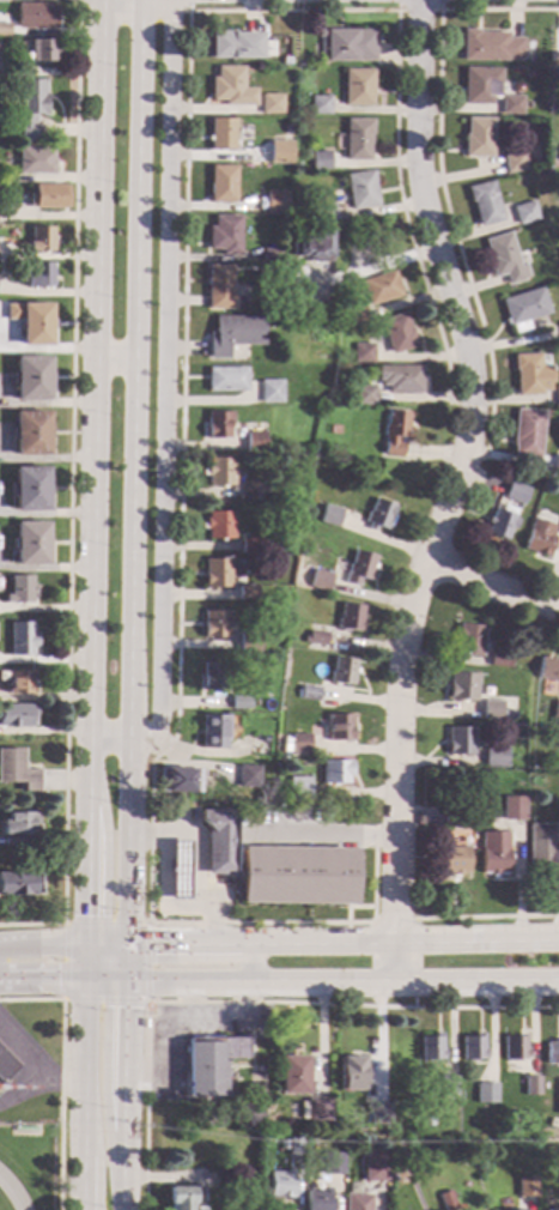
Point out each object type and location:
building: (1, 0)
road: (419, 11)
building: (35, 14)
building: (4, 29)
building: (235, 44)
building: (346, 44)
building: (490, 46)
building: (38, 49)
building: (480, 84)
building: (230, 86)
building: (358, 86)
building: (269, 103)
building: (320, 104)
building: (510, 104)
building: (29, 107)
building: (221, 134)
building: (478, 137)
building: (358, 139)
building: (278, 151)
building: (250, 153)
building: (34, 159)
building: (321, 159)
building: (512, 162)
road: (439, 176)
building: (221, 183)
building: (360, 189)
building: (48, 195)
building: (274, 201)
building: (484, 202)
building: (255, 204)
building: (324, 212)
building: (523, 212)
building: (224, 234)
building: (40, 238)
building: (308, 242)
building: (269, 254)
building: (503, 258)
building: (296, 271)
building: (38, 274)
building: (218, 286)
building: (381, 286)
building: (523, 308)
building: (354, 315)
building: (30, 321)
road: (182, 322)
building: (558, 322)
building: (397, 332)
building: (232, 333)
building: (361, 352)
road: (115, 362)
building: (530, 374)
building: (31, 377)
building: (402, 377)
building: (225, 379)
building: (268, 391)
building: (364, 394)
building: (557, 394)
road: (164, 398)
building: (217, 424)
building: (259, 426)
building: (394, 430)
building: (30, 432)
building: (527, 432)
building: (254, 441)
building: (239, 464)
building: (555, 464)
road: (132, 470)
building: (219, 471)
building: (29, 488)
building: (251, 490)
road: (450, 490)
road: (69, 492)
building: (515, 492)
building: (330, 514)
building: (378, 514)
building: (557, 515)
building: (500, 521)
building: (218, 524)
building: (537, 537)
building: (30, 543)
building: (249, 545)
building: (359, 567)
building: (215, 573)
building: (320, 580)
road: (493, 583)
building: (19, 589)
building: (245, 592)
road: (95, 605)
building: (350, 616)
building: (214, 622)
building: (315, 637)
building: (20, 639)
building: (468, 639)
building: (267, 643)
building: (243, 645)
building: (498, 659)
building: (548, 668)
building: (341, 670)
building: (213, 674)
building: (19, 682)
building: (461, 686)
building: (308, 692)
building: (239, 702)
building: (491, 708)
building: (555, 712)
building: (506, 714)
building: (16, 715)
building: (338, 726)
building: (213, 731)
building: (458, 740)
building: (299, 743)
building: (259, 744)
building: (494, 756)
building: (18, 770)
building: (335, 770)
building: (247, 775)
building: (180, 780)
building: (298, 787)
building: (265, 795)
building: (511, 807)
building: (450, 813)
building: (19, 823)
road: (321, 834)
building: (215, 840)
building: (542, 851)
building: (492, 852)
road: (193, 857)
building: (452, 859)
building: (177, 873)
gas station: (177, 873)
road: (105, 875)
building: (297, 876)
building: (18, 883)
traffic signals: (86, 915)
road: (487, 916)
road: (395, 920)
road: (146, 925)
traffic signals: (153, 940)
road: (321, 940)
road: (42, 944)
road: (129, 960)
road: (245, 961)
road: (42, 976)
traffic signals: (56, 976)
road: (321, 984)
road: (187, 996)
road: (249, 1002)
traffic signals: (128, 1008)
road: (170, 1010)
building: (144, 1023)
parking lot: (192, 1036)
building: (430, 1047)
building: (472, 1047)
building: (514, 1047)
building: (552, 1053)
building: (211, 1064)
building: (6, 1066)
road: (35, 1067)
road: (105, 1067)
building: (259, 1069)
road: (60, 1072)
building: (351, 1072)
building: (292, 1075)
building: (445, 1085)
building: (530, 1085)
road: (22, 1089)
building: (484, 1093)
road: (128, 1094)
building: (316, 1109)
building: (377, 1113)
building: (250, 1117)
building: (29, 1130)
building: (285, 1144)
building: (296, 1147)
building: (397, 1156)
building: (333, 1163)
building: (375, 1173)
building: (280, 1184)
building: (528, 1190)
track: (11, 1193)
building: (180, 1198)
building: (317, 1199)
building: (446, 1200)
building: (357, 1202)
building: (551, 1209)

